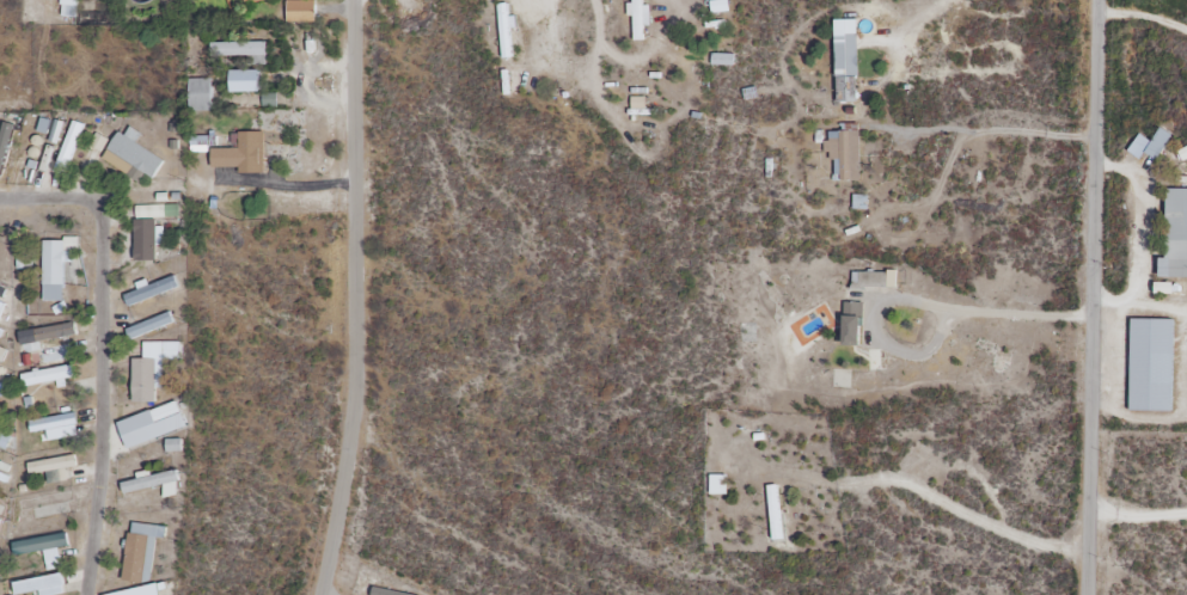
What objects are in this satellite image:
building: (253, 1)
building: (301, 11)
building: (637, 20)
building: (506, 30)
building: (239, 50)
building: (844, 60)
building: (245, 81)
building: (201, 93)
building: (1150, 145)
building: (69, 147)
building: (2, 149)
building: (843, 152)
building: (241, 154)
building: (131, 158)
road: (48, 198)
building: (1174, 235)
building: (145, 240)
building: (55, 266)
building: (871, 280)
building: (152, 290)
road: (1093, 297)
road: (355, 299)
road: (1139, 308)
building: (151, 325)
building: (850, 325)
building: (56, 331)
building: (2, 354)
building: (1150, 366)
building: (152, 368)
building: (48, 376)
road: (102, 399)
road: (1137, 417)
building: (155, 423)
building: (57, 427)
building: (1, 436)
building: (54, 461)
building: (153, 484)
building: (717, 485)
building: (47, 505)
building: (775, 513)
road: (1137, 514)
building: (44, 548)
building: (142, 552)
building: (42, 585)
building: (141, 590)

